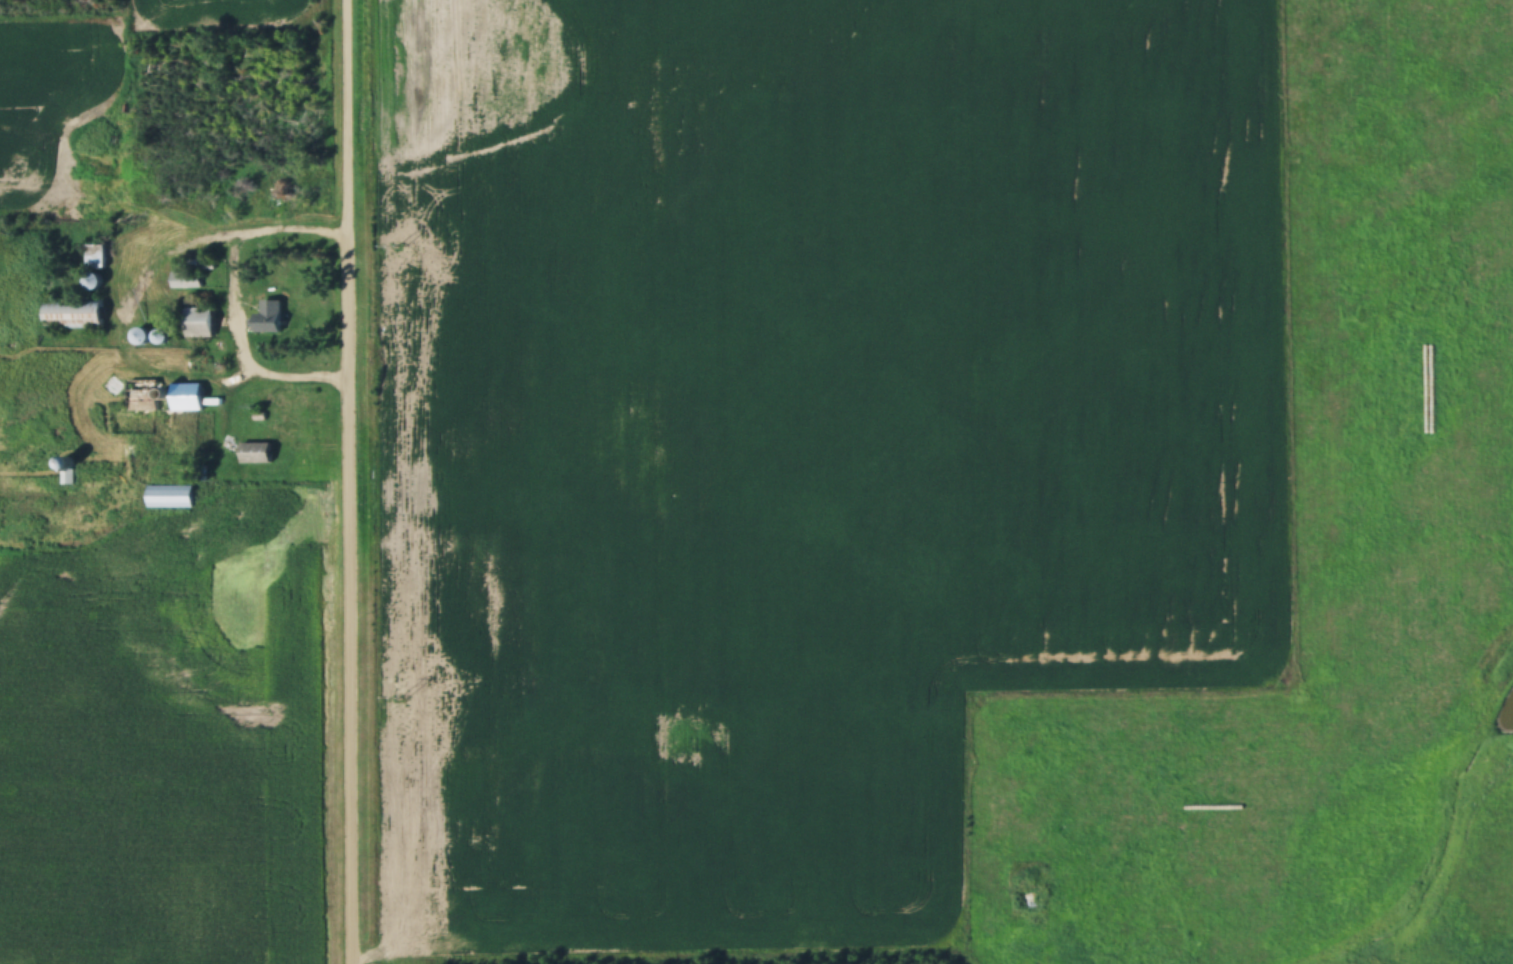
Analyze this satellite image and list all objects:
building: (126, 230)
building: (159, 240)
power tower: (400, 247)
building: (94, 257)
building: (92, 280)
building: (185, 280)
road: (233, 302)
building: (73, 315)
building: (268, 317)
building: (199, 323)
building: (164, 394)
building: (143, 395)
building: (187, 397)
building: (255, 452)
building: (66, 476)
road: (353, 481)
building: (169, 496)
power tower: (403, 699)

